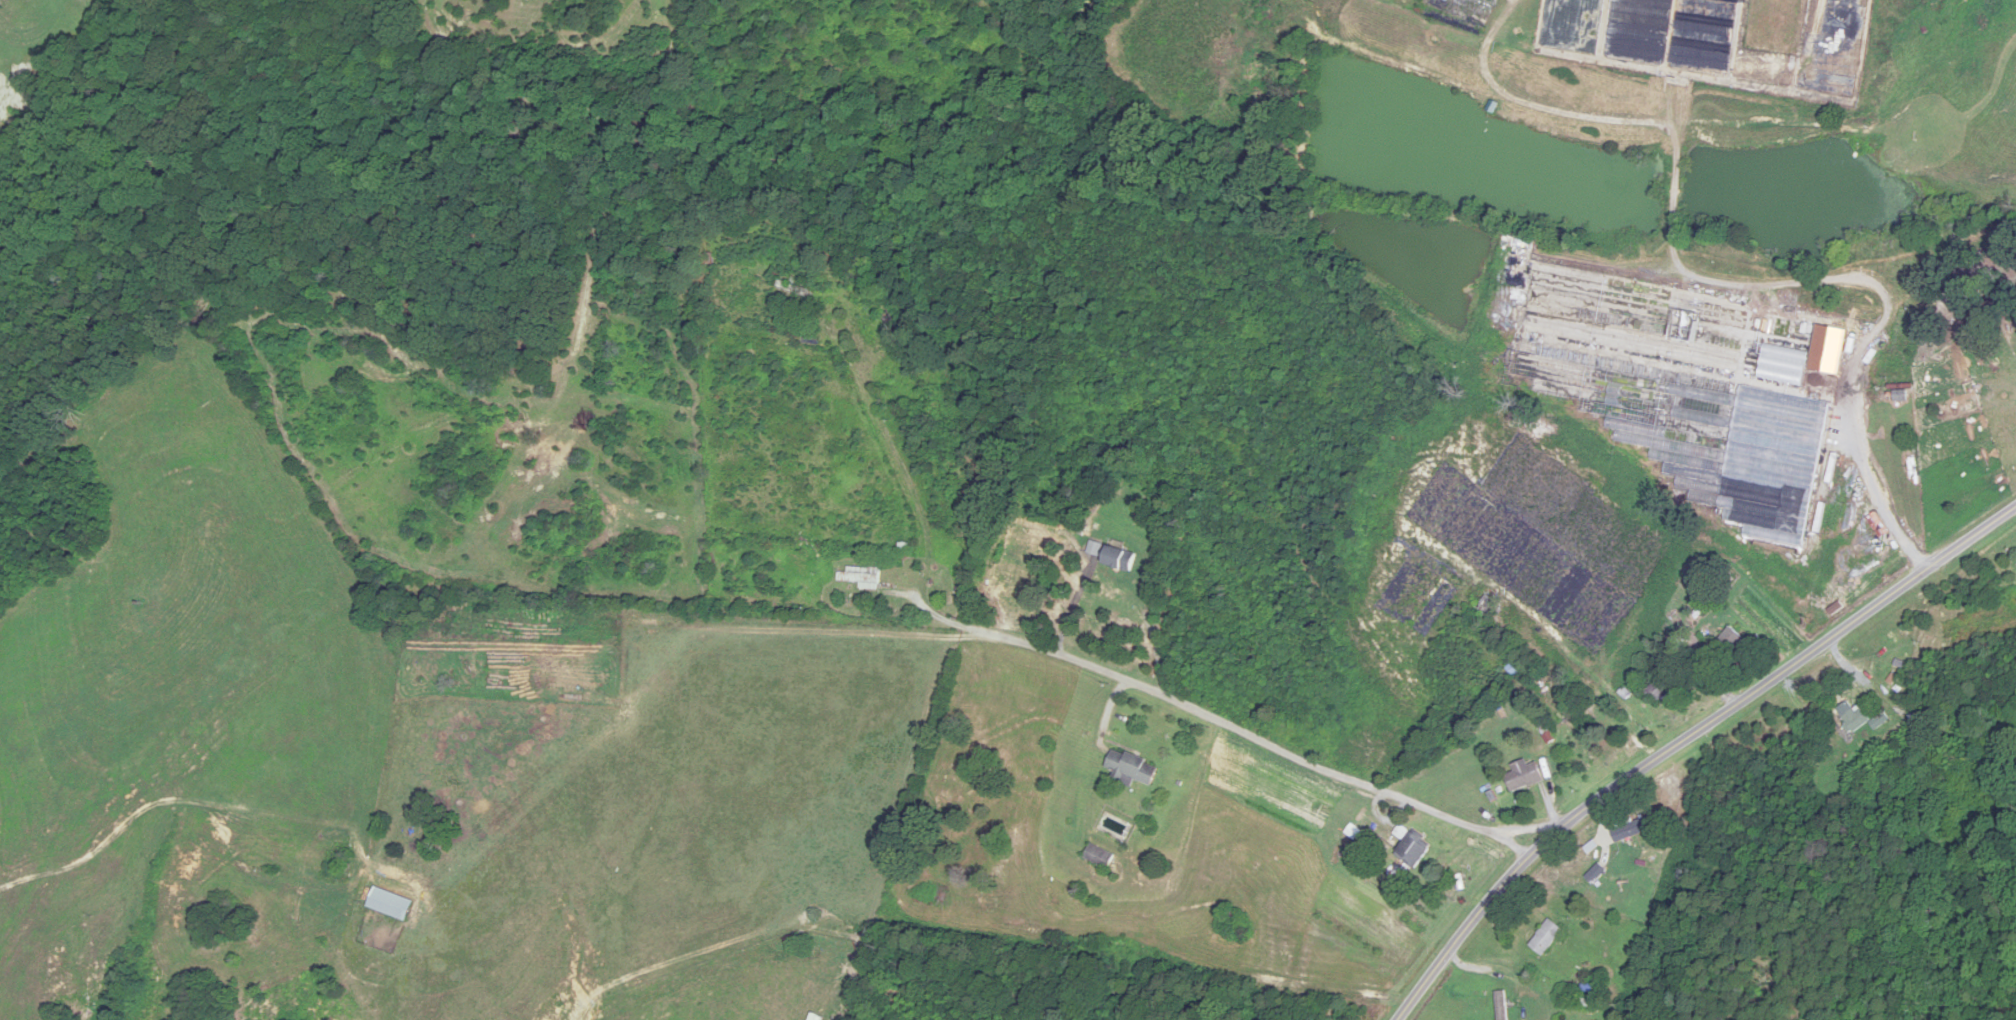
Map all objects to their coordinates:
building: (796, 290)
building: (887, 320)
building: (1765, 451)
road: (1878, 500)
building: (1120, 558)
building: (2014, 568)
building: (861, 575)
building: (1488, 606)
road: (1071, 607)
building: (1730, 640)
building: (1663, 687)
building: (1862, 720)
road: (1684, 740)
road: (1254, 745)
building: (1995, 753)
building: (1132, 768)
building: (1528, 775)
building: (1633, 829)
building: (1411, 846)
building: (1099, 857)
building: (1596, 874)
building: (391, 905)
building: (1546, 938)
building: (1501, 1006)

